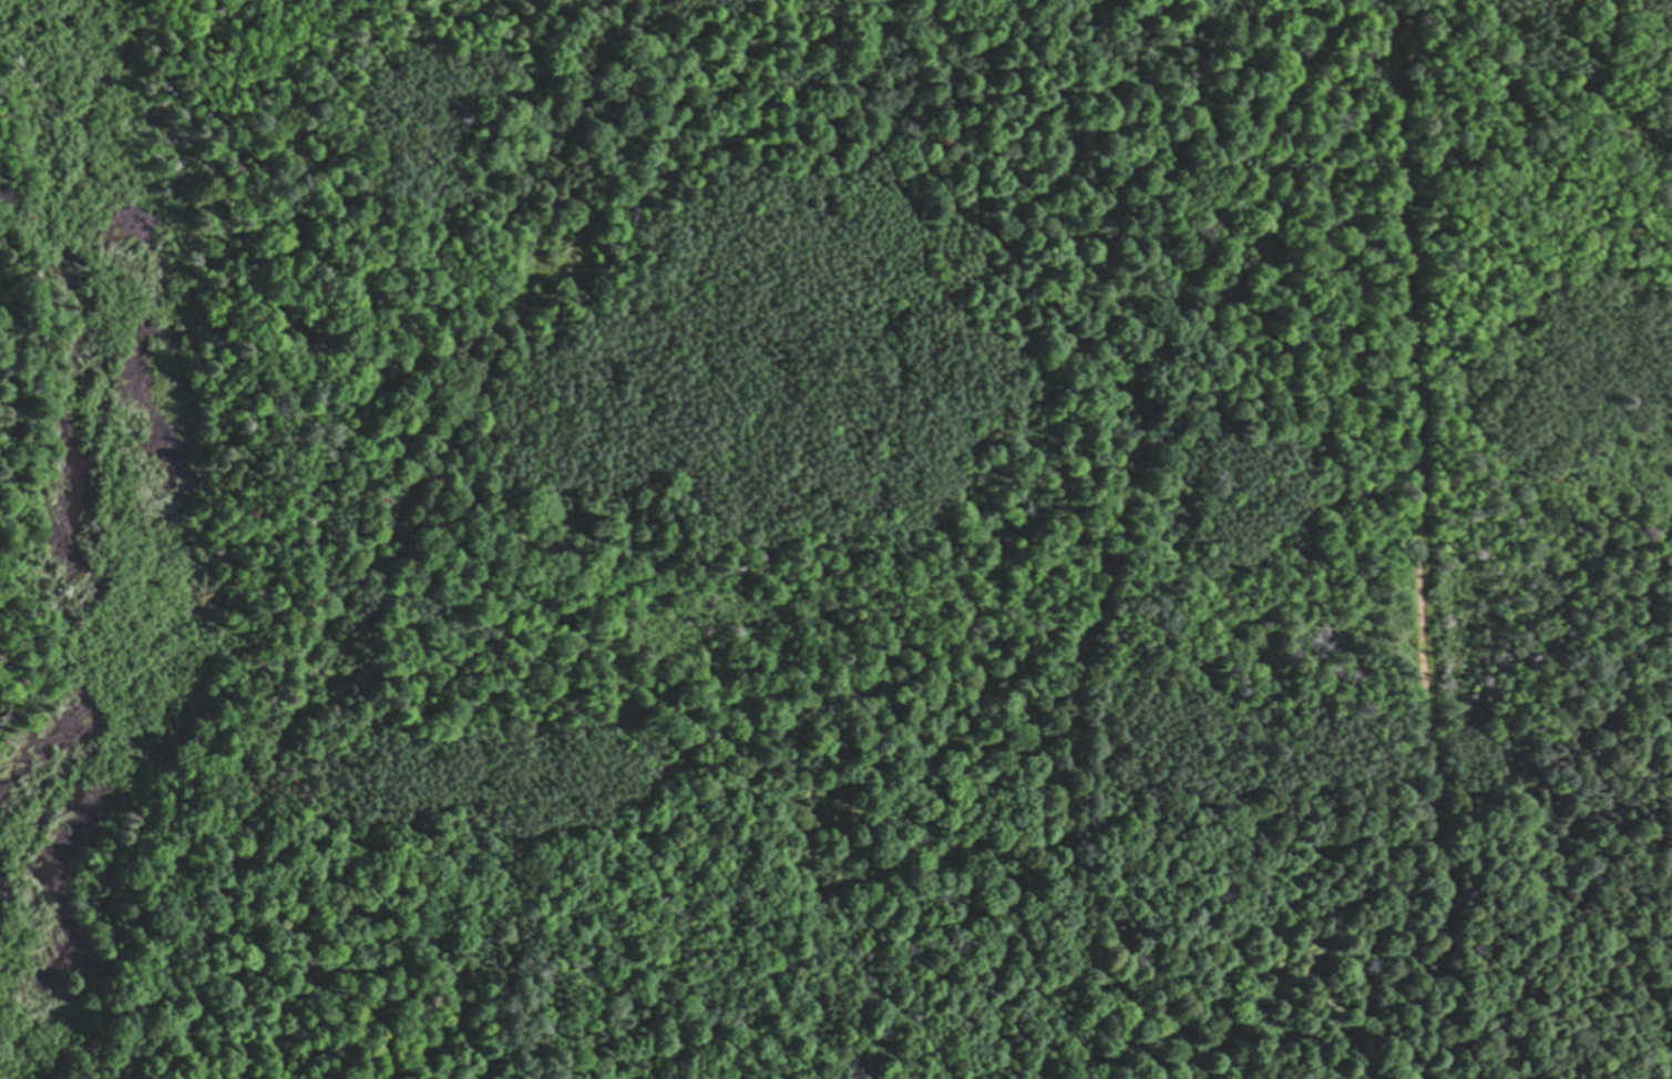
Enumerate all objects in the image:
road: (1414, 538)

